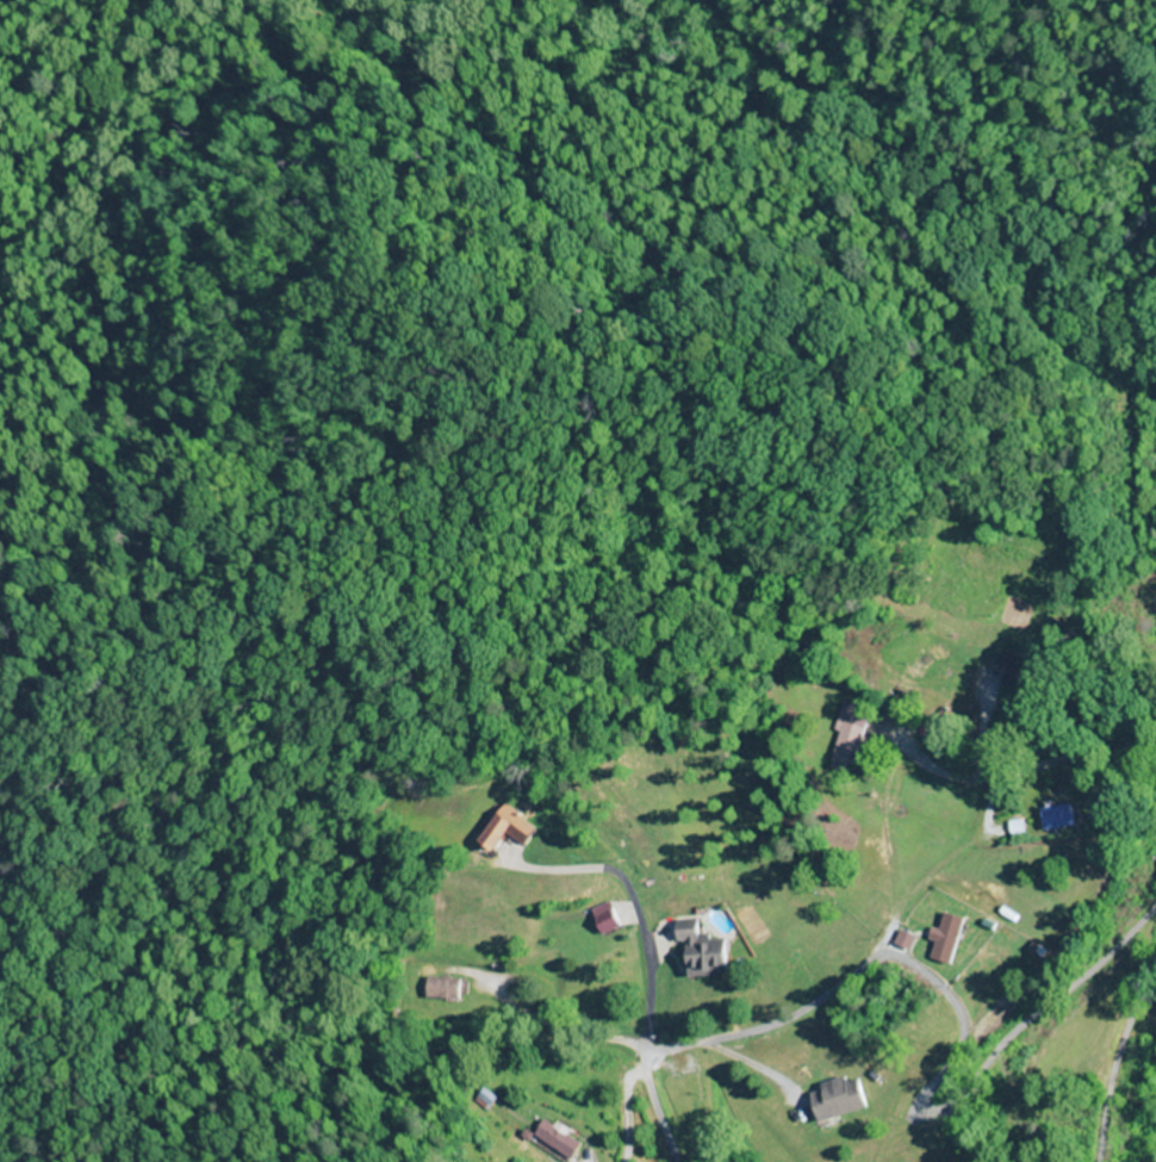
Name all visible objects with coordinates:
building: (1025, 669)
building: (852, 734)
building: (1062, 816)
building: (518, 831)
building: (611, 921)
building: (806, 931)
building: (953, 938)
building: (707, 951)
road: (1155, 963)
building: (446, 989)
road: (961, 1051)
road: (1114, 1057)
building: (843, 1099)
road: (661, 1104)
building: (692, 1106)
building: (560, 1142)

